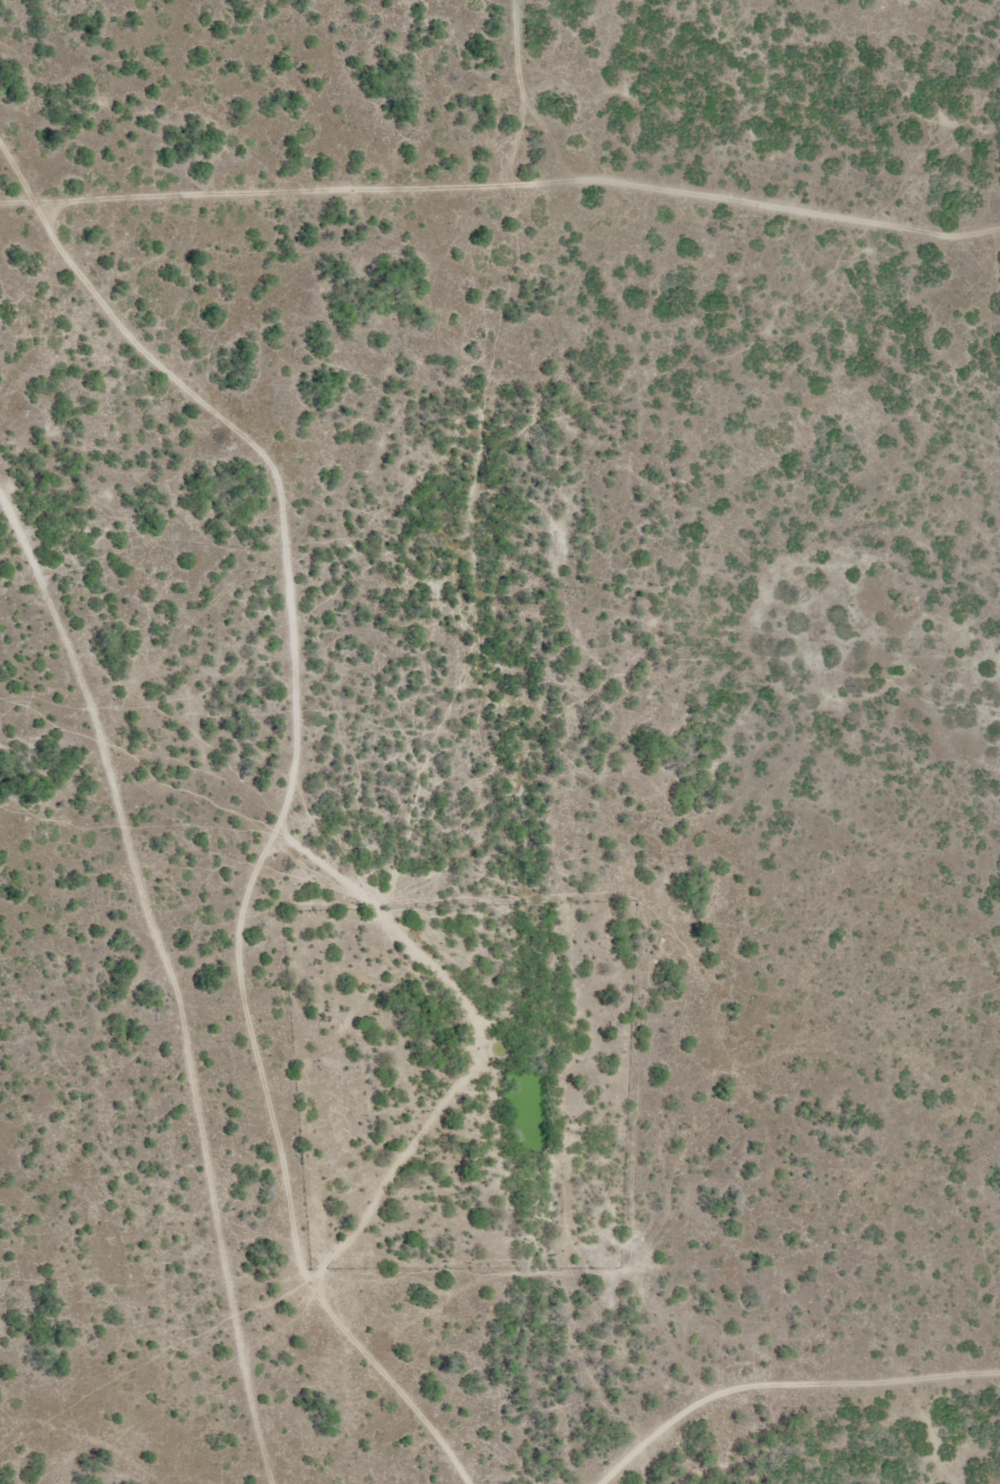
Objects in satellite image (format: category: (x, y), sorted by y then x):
road: (403, 496)

